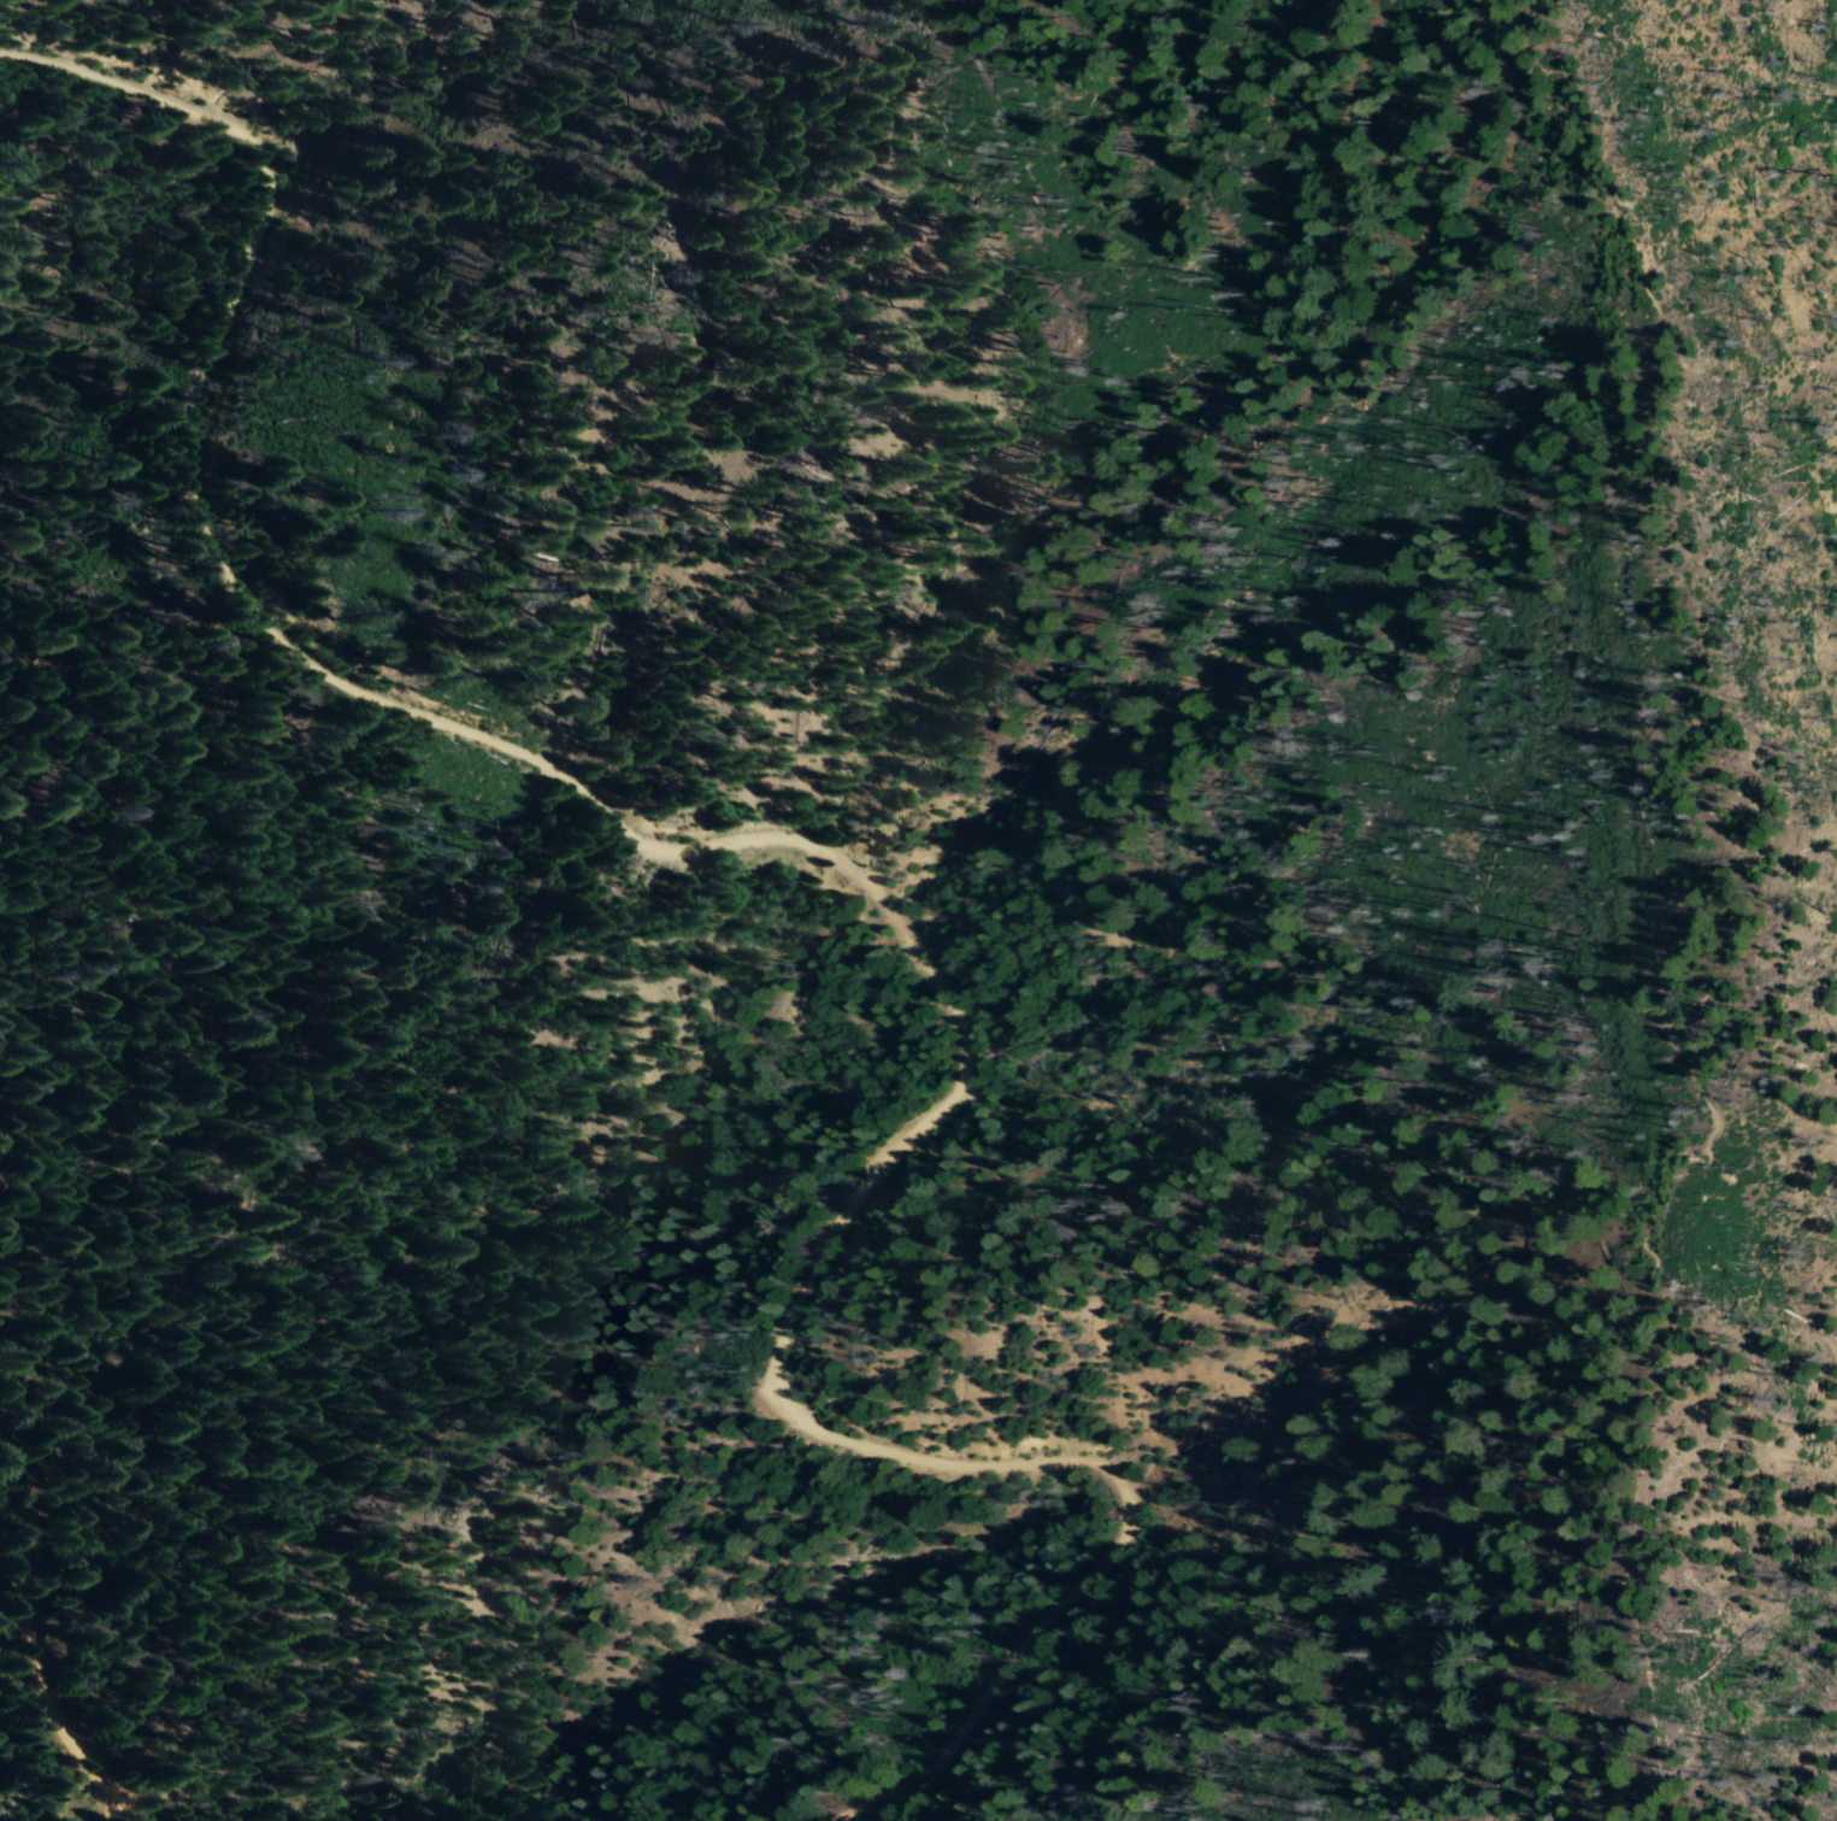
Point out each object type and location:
road: (764, 888)
road: (41, 1694)

